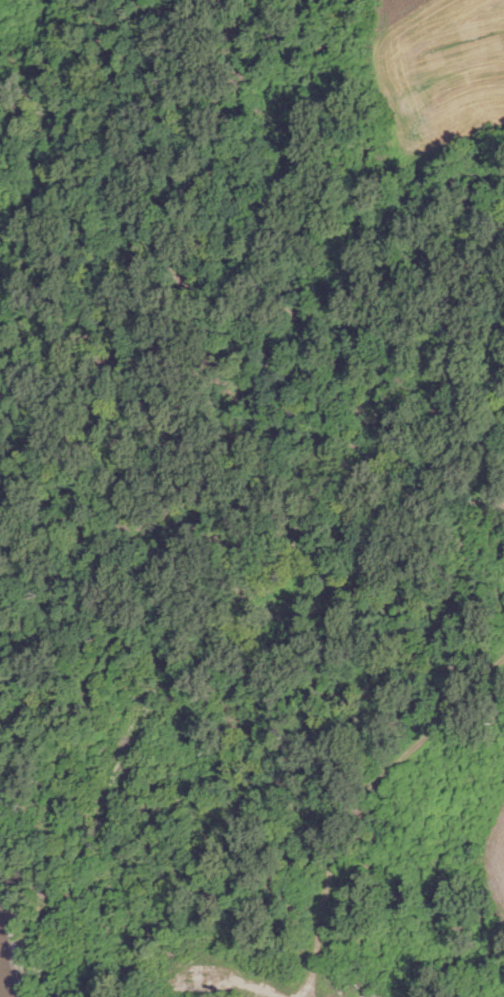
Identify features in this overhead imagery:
crop: (442, 74)
crop: (493, 852)

